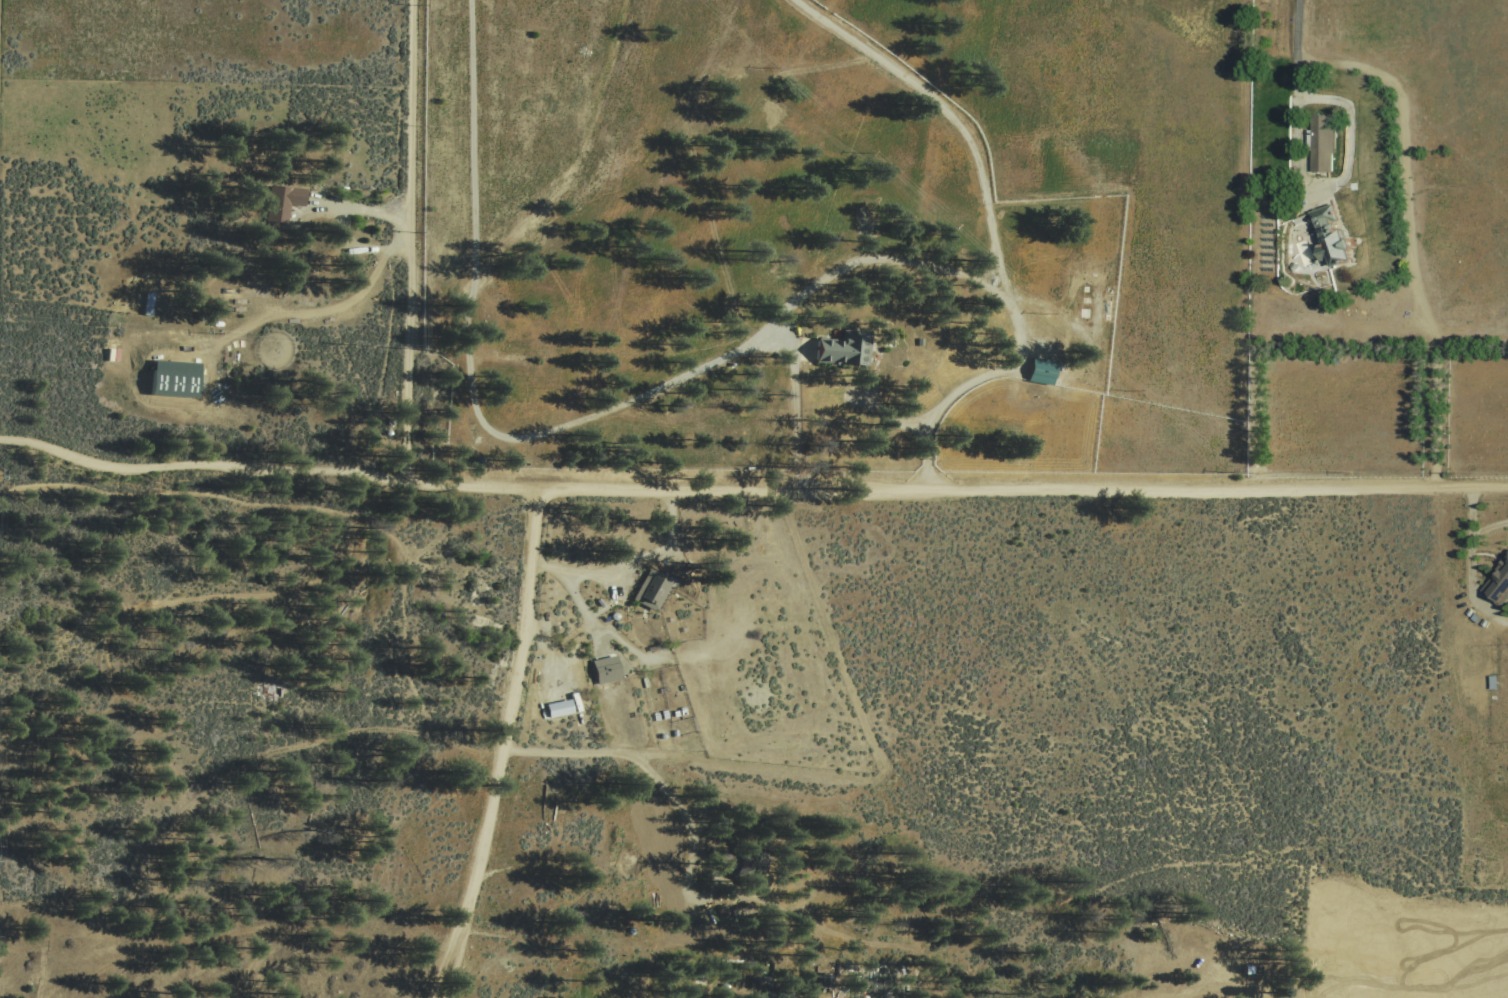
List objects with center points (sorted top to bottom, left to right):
road: (1298, 33)
road: (950, 117)
building: (1320, 141)
road: (1330, 186)
building: (280, 204)
road: (359, 212)
building: (1328, 236)
road: (410, 239)
road: (364, 247)
road: (921, 265)
building: (841, 349)
building: (1042, 371)
road: (474, 372)
building: (174, 377)
road: (893, 419)
road: (751, 489)
road: (221, 498)
road: (1468, 555)
road: (630, 563)
building: (1497, 584)
building: (652, 590)
road: (604, 630)
road: (596, 637)
building: (604, 671)
building: (556, 709)
road: (507, 747)
road: (667, 798)
building: (737, 860)
building: (820, 978)
building: (760, 981)

